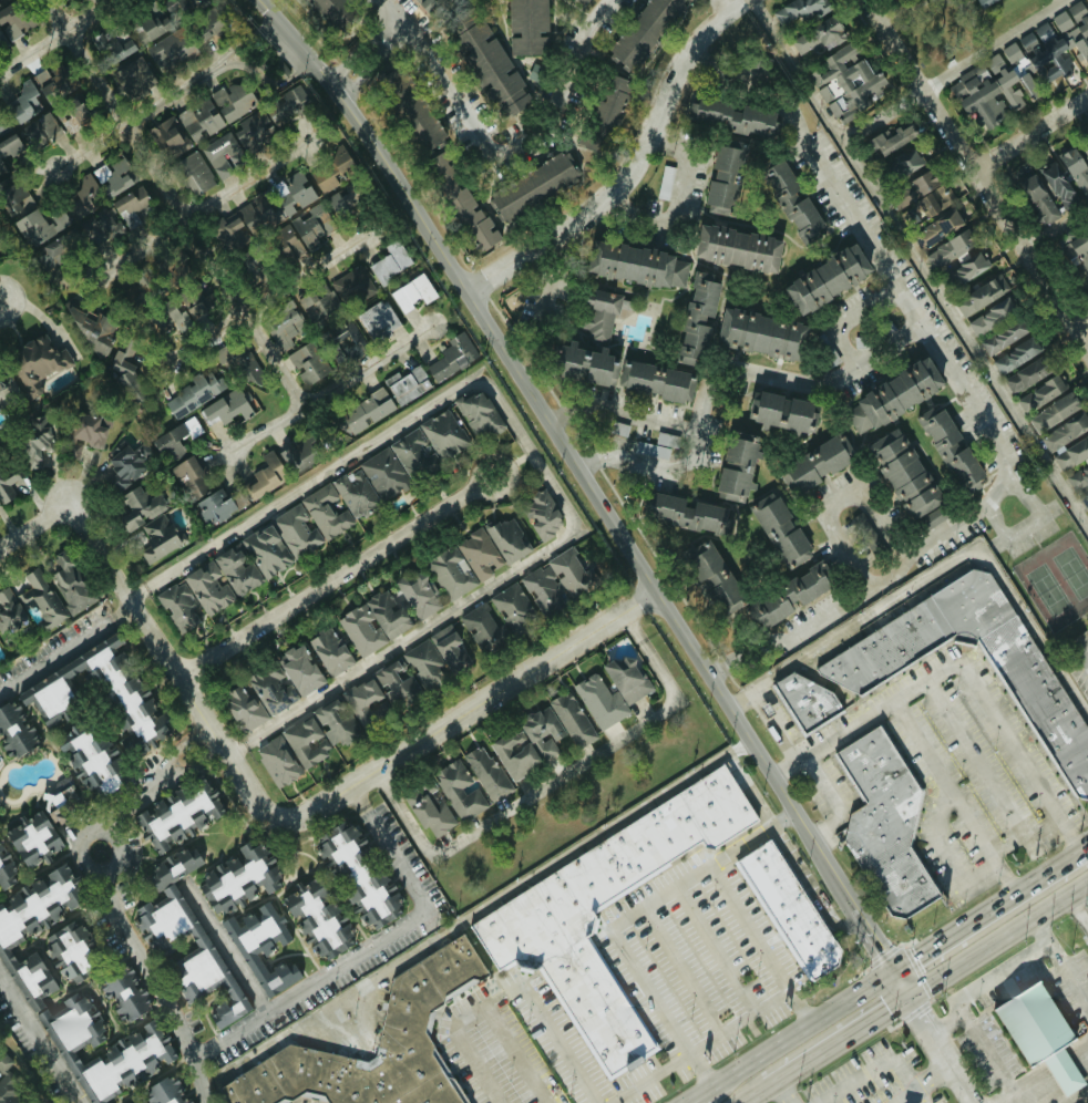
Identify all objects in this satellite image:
building: (585, 0)
building: (984, 1)
road: (1056, 1)
building: (427, 3)
building: (328, 7)
road: (388, 7)
road: (721, 7)
building: (798, 10)
building: (16, 20)
building: (209, 24)
building: (528, 27)
building: (145, 28)
building: (1075, 28)
road: (391, 31)
building: (645, 31)
road: (254, 33)
building: (820, 34)
road: (59, 37)
building: (1, 38)
building: (114, 42)
road: (993, 44)
building: (172, 49)
road: (350, 55)
road: (226, 58)
building: (491, 68)
road: (300, 69)
road: (255, 70)
building: (132, 71)
road: (365, 72)
building: (1028, 81)
building: (846, 82)
building: (987, 90)
building: (31, 95)
building: (286, 105)
building: (602, 116)
road: (136, 117)
building: (730, 117)
building: (203, 118)
building: (73, 120)
building: (253, 132)
road: (1030, 133)
building: (42, 134)
building: (1086, 146)
road: (511, 147)
building: (7, 151)
building: (222, 155)
building: (903, 164)
road: (634, 171)
building: (1075, 171)
building: (442, 172)
building: (193, 174)
road: (977, 176)
building: (316, 177)
building: (723, 177)
building: (94, 186)
building: (532, 186)
building: (1058, 186)
building: (912, 189)
building: (12, 199)
building: (1037, 199)
building: (343, 200)
building: (790, 200)
road: (679, 202)
road: (175, 203)
building: (130, 207)
building: (923, 207)
road: (199, 209)
building: (242, 223)
road: (1055, 228)
building: (312, 229)
building: (935, 229)
building: (40, 233)
building: (735, 249)
building: (1077, 256)
building: (956, 258)
building: (387, 266)
building: (636, 266)
road: (918, 266)
building: (824, 279)
building: (353, 288)
building: (411, 293)
building: (979, 296)
building: (317, 301)
road: (265, 302)
road: (543, 302)
building: (182, 309)
road: (850, 316)
building: (991, 317)
building: (695, 320)
building: (378, 321)
road: (1080, 323)
building: (284, 330)
building: (759, 334)
building: (1003, 337)
building: (341, 342)
building: (823, 351)
building: (1014, 355)
building: (451, 357)
building: (612, 359)
building: (34, 361)
building: (121, 361)
building: (306, 363)
road: (725, 370)
building: (1026, 375)
building: (406, 385)
road: (331, 390)
building: (0, 391)
building: (193, 393)
road: (976, 394)
building: (891, 396)
building: (227, 406)
road: (617, 412)
building: (781, 413)
building: (1053, 413)
building: (362, 414)
building: (478, 414)
building: (89, 430)
building: (1065, 433)
building: (443, 434)
building: (172, 442)
road: (373, 442)
building: (32, 447)
building: (953, 455)
building: (295, 456)
building: (414, 457)
building: (815, 464)
building: (125, 466)
building: (738, 470)
building: (1077, 472)
building: (383, 476)
building: (263, 477)
building: (188, 478)
building: (905, 481)
building: (7, 484)
road: (592, 491)
building: (355, 495)
road: (836, 502)
building: (138, 507)
building: (213, 507)
building: (325, 513)
building: (542, 514)
building: (686, 514)
road: (32, 527)
building: (778, 530)
building: (295, 533)
building: (155, 537)
building: (507, 539)
building: (478, 554)
building: (252, 560)
road: (952, 569)
building: (449, 574)
building: (571, 574)
road: (335, 578)
building: (712, 578)
building: (207, 588)
building: (542, 590)
building: (51, 595)
building: (417, 596)
building: (786, 598)
building: (178, 608)
road: (122, 611)
building: (9, 612)
building: (519, 620)
building: (372, 623)
road: (398, 643)
building: (328, 652)
road: (58, 654)
building: (435, 658)
building: (852, 661)
road: (961, 668)
building: (285, 680)
building: (397, 685)
road: (502, 688)
building: (628, 693)
building: (103, 697)
building: (361, 701)
road: (191, 702)
building: (243, 709)
road: (768, 714)
building: (571, 720)
building: (335, 722)
building: (14, 731)
road: (193, 734)
building: (305, 743)
building: (527, 744)
road: (207, 756)
road: (168, 760)
building: (276, 762)
building: (86, 773)
building: (485, 774)
road: (554, 780)
building: (458, 790)
road: (356, 797)
road: (957, 798)
road: (833, 803)
building: (428, 810)
building: (54, 816)
building: (883, 819)
road: (1027, 833)
building: (32, 841)
road: (1087, 852)
building: (6, 873)
building: (358, 877)
building: (237, 878)
road: (109, 895)
building: (793, 909)
road: (1077, 909)
road: (989, 911)
road: (622, 918)
building: (534, 920)
building: (316, 921)
building: (33, 927)
road: (997, 938)
building: (184, 940)
road: (760, 941)
building: (260, 948)
traffic signals: (879, 948)
road: (714, 949)
building: (64, 955)
road: (232, 956)
traffic signals: (917, 956)
road: (1059, 959)
road: (338, 967)
road: (680, 970)
road: (996, 973)
road: (510, 993)
building: (123, 996)
traffic signals: (889, 1008)
traffic signals: (918, 1011)
road: (741, 1020)
building: (407, 1022)
building: (76, 1024)
road: (797, 1030)
road: (842, 1037)
building: (1036, 1039)
road: (38, 1042)
road: (981, 1043)
road: (941, 1049)
road: (516, 1055)
building: (126, 1061)
road: (882, 1064)
road: (651, 1078)
road: (924, 1081)
road: (1057, 1081)
building: (7, 1083)
building: (163, 1091)
road: (758, 1091)
road: (783, 1091)
road: (694, 1097)
building: (134, 1102)

